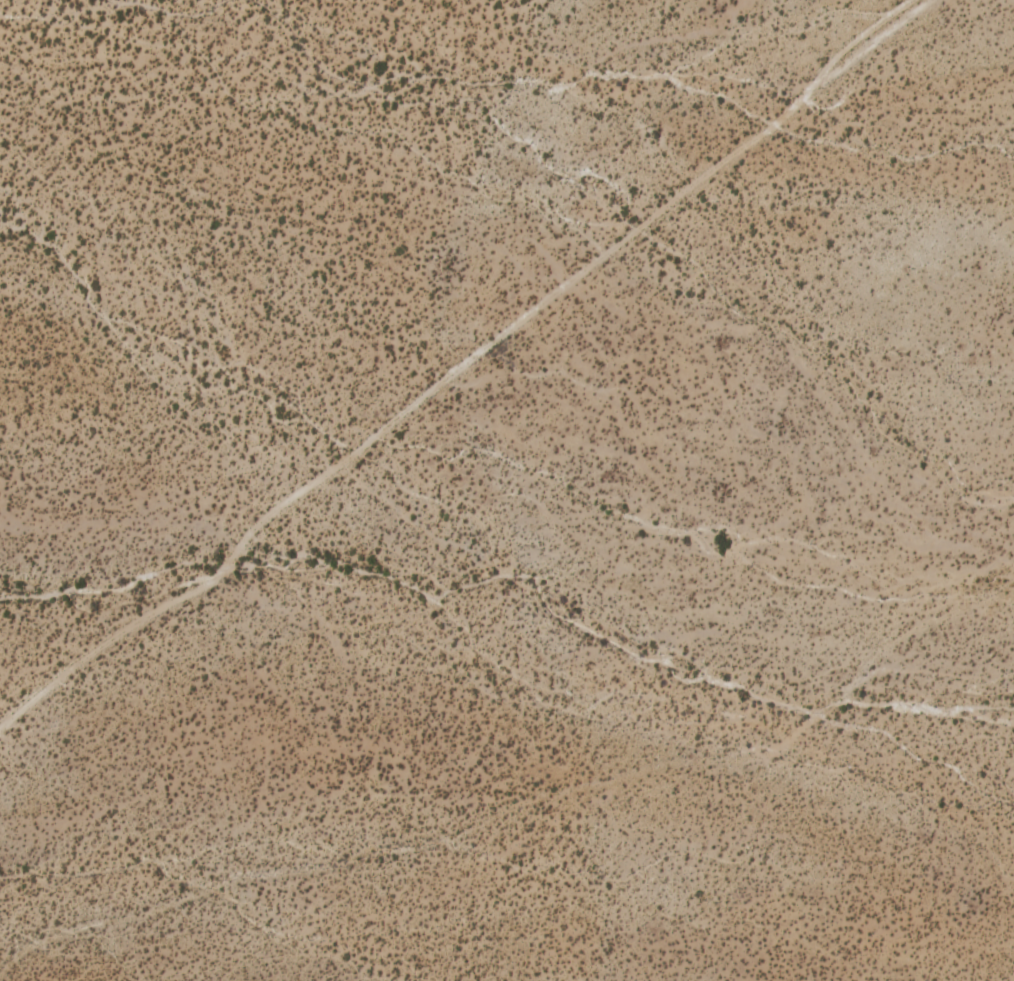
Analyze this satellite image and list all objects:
road: (417, 287)

